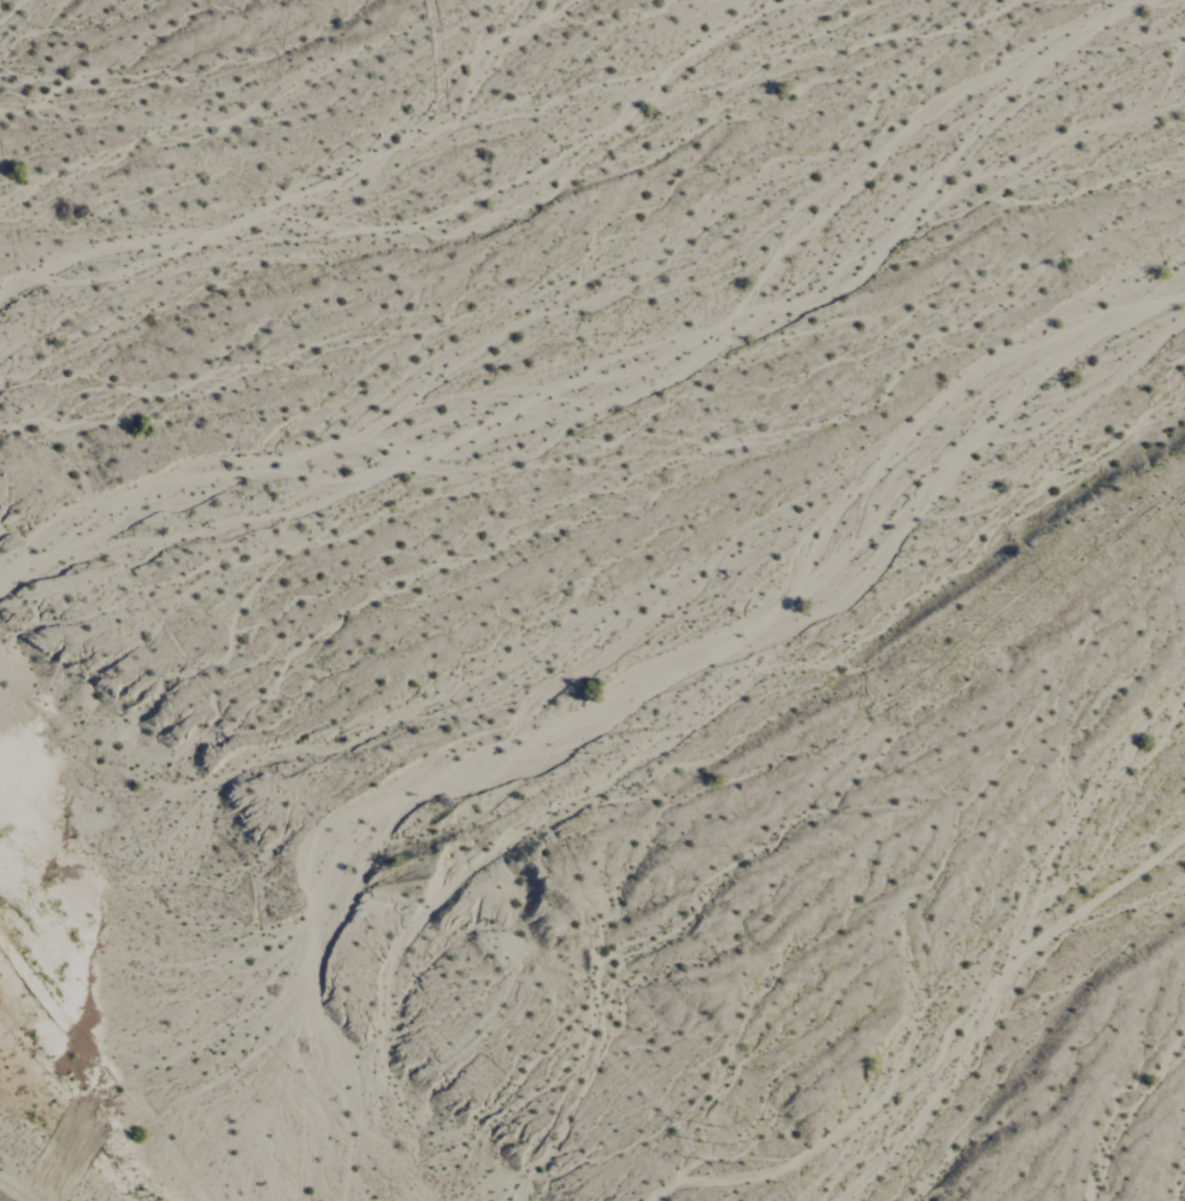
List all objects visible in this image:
power tower: (721, 1146)

